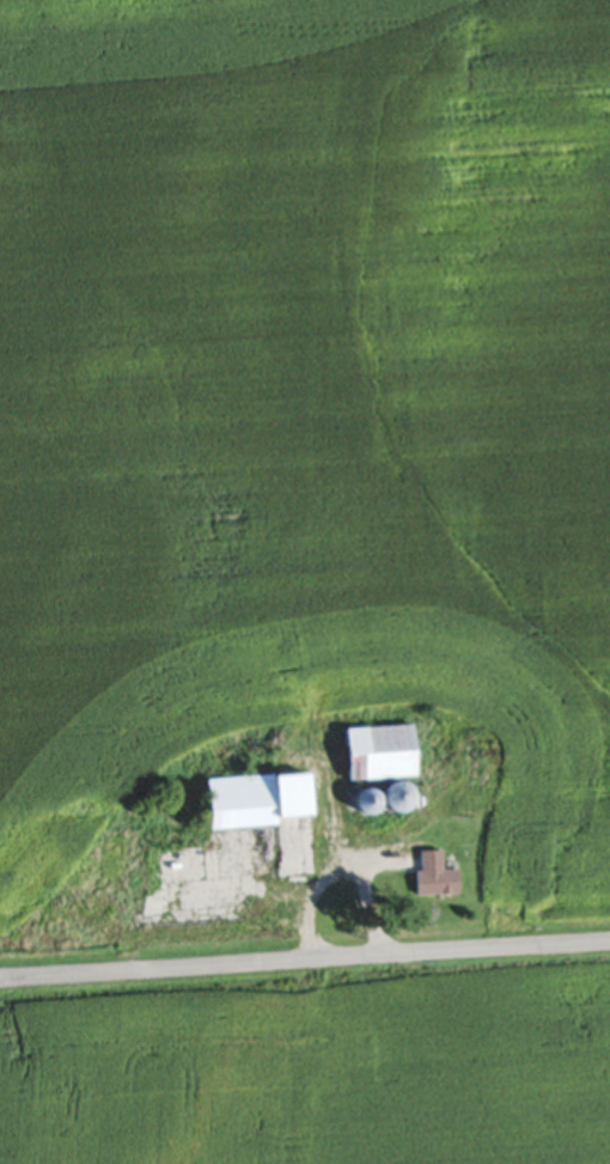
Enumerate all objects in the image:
building: (382, 762)
building: (272, 813)
road: (331, 863)
building: (177, 864)
building: (434, 872)
road: (304, 961)
crop: (313, 1065)

